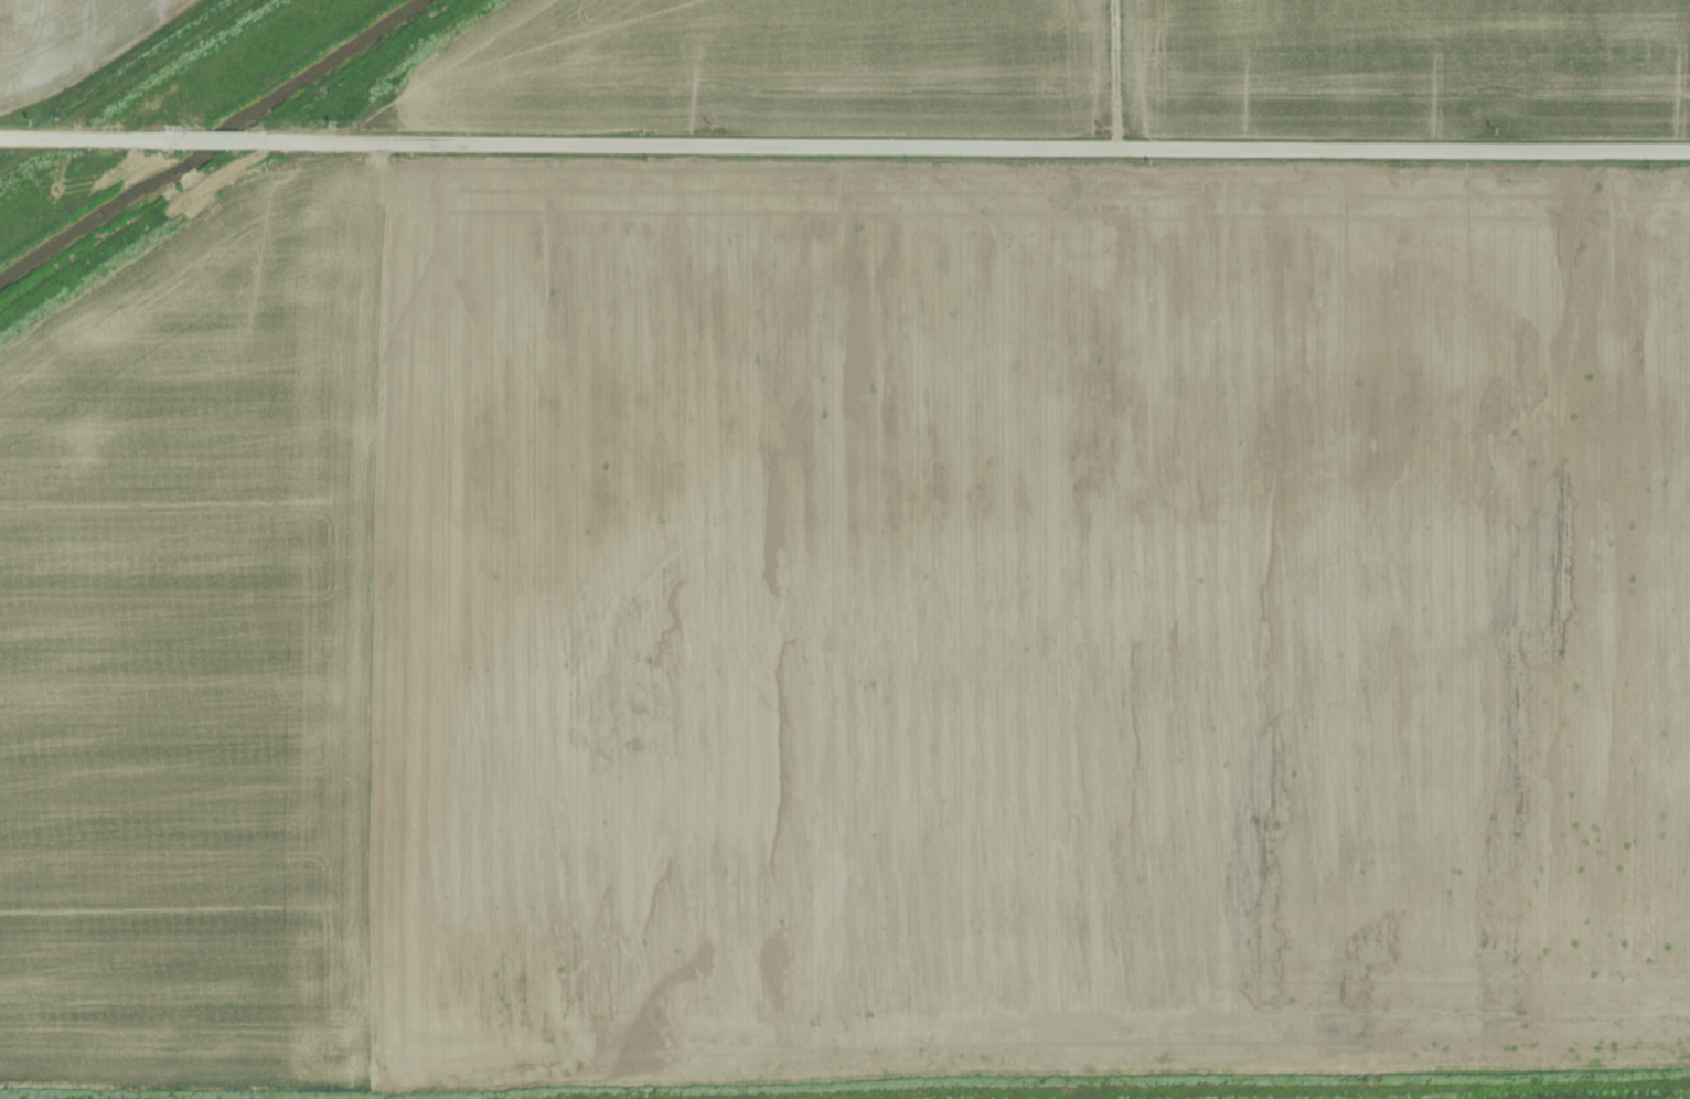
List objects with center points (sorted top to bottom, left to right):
road: (1110, 74)
road: (844, 146)
road: (1574, 273)

